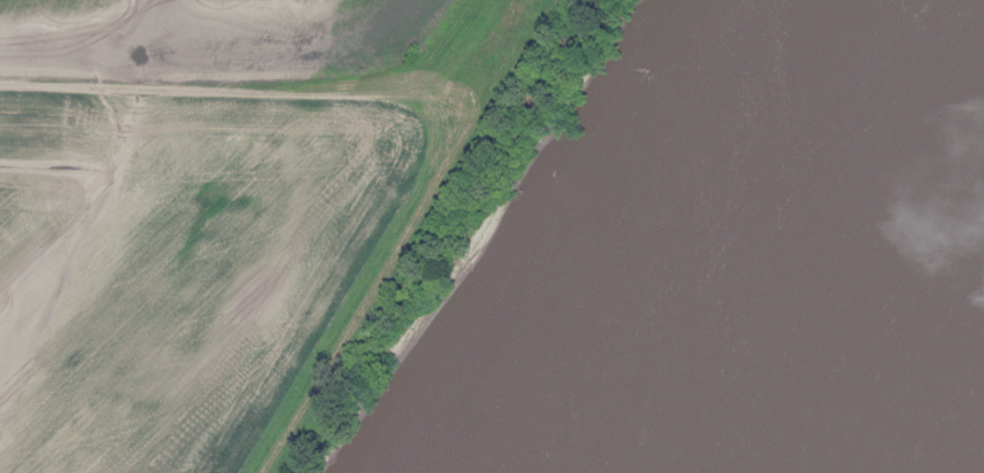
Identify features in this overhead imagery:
river: (906, 291)

